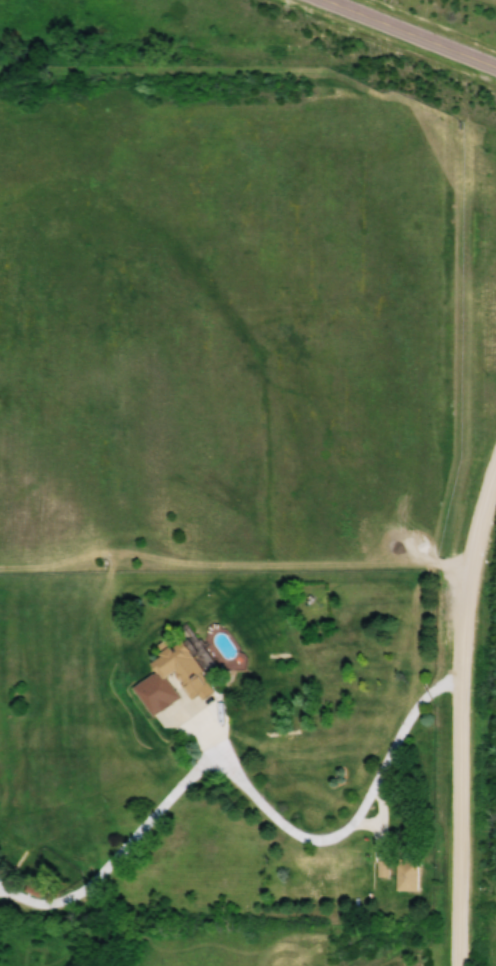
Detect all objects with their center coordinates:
road: (495, 0)
park: (439, 22)
road: (411, 33)
road: (478, 539)
building: (153, 680)
road: (248, 787)
road: (459, 789)
building: (405, 874)

